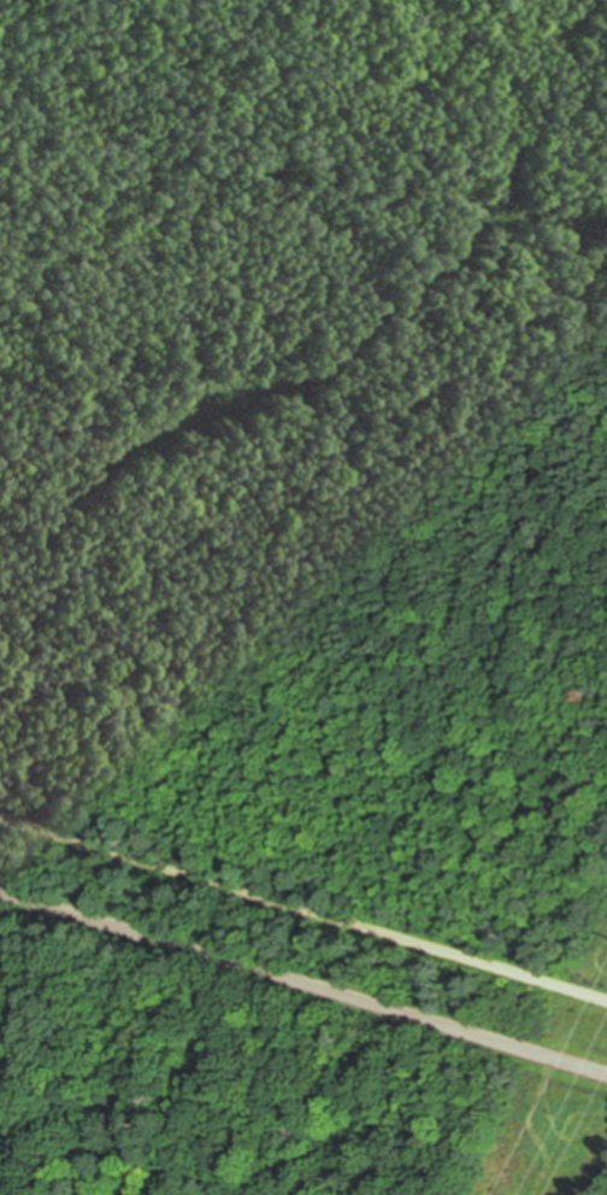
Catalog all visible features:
road: (303, 908)
road: (303, 980)

